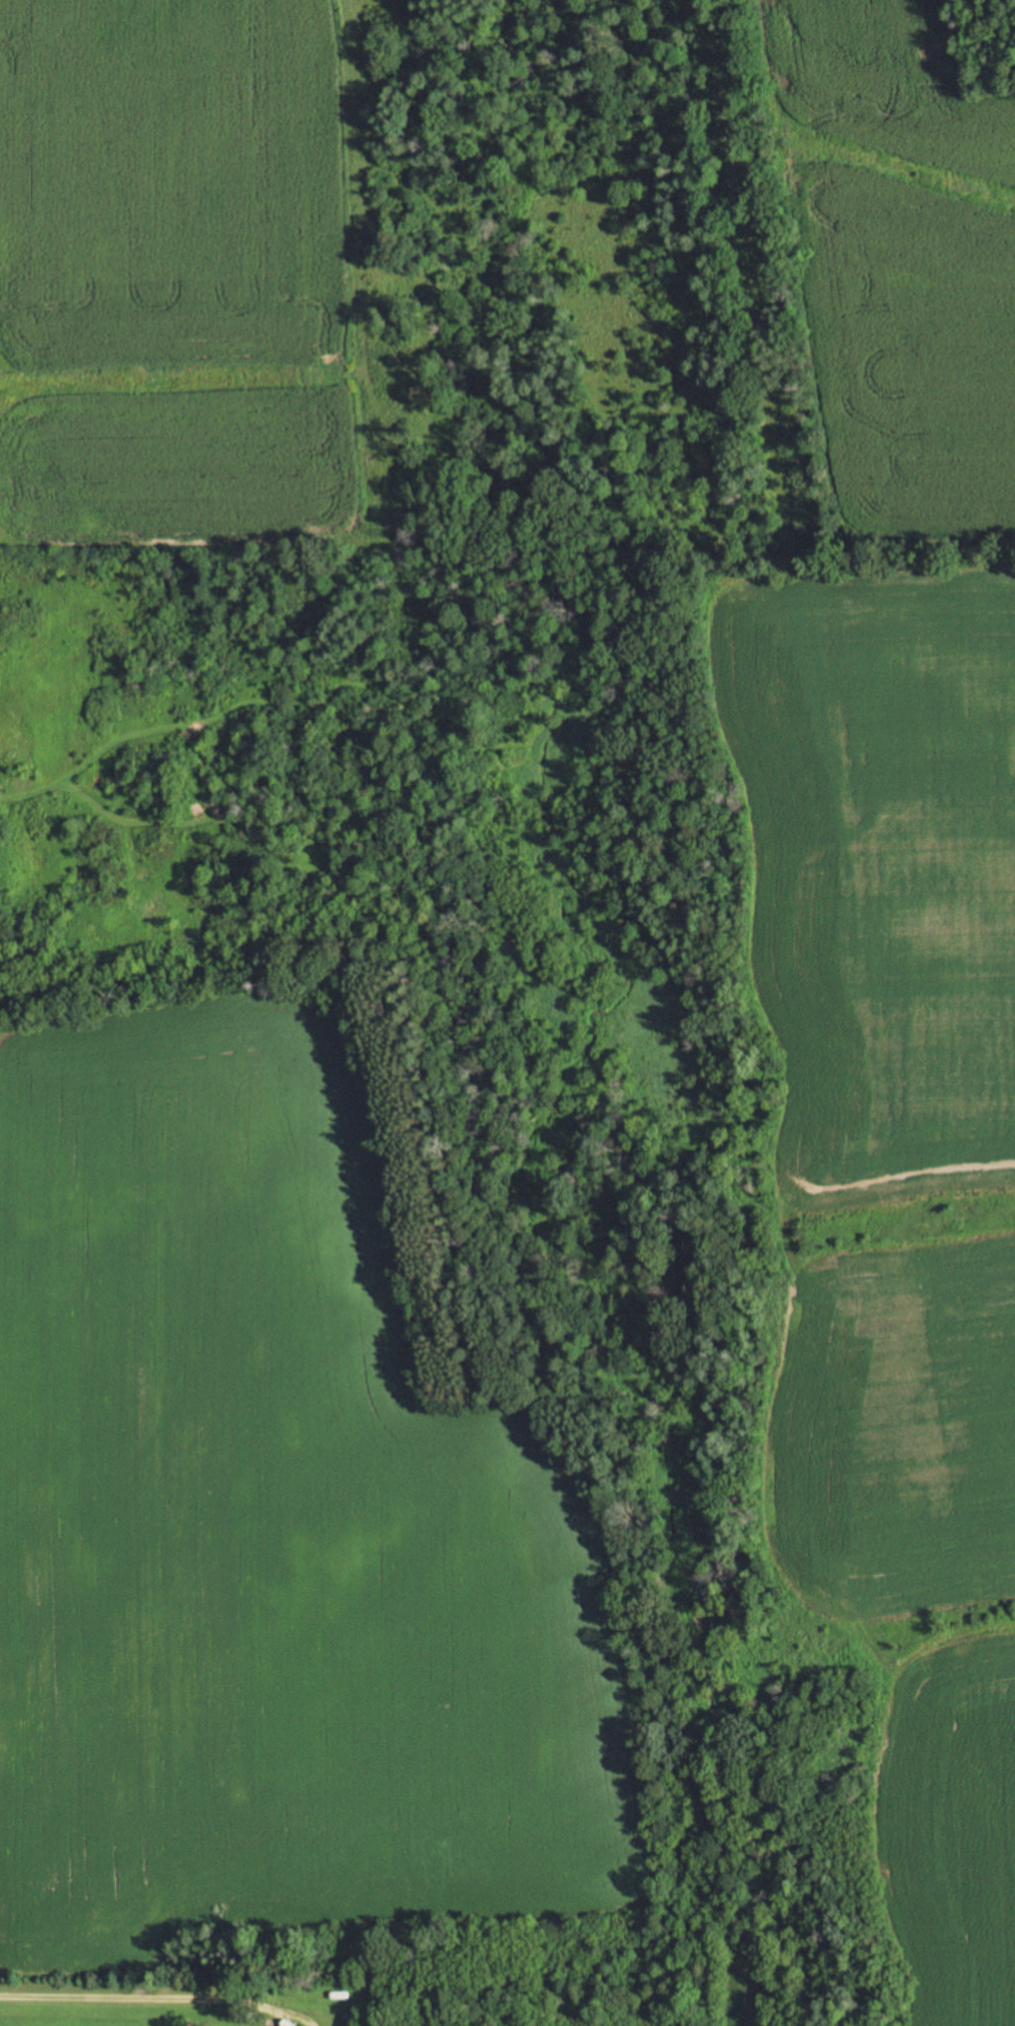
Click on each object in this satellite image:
road: (147, 1998)
building: (359, 2020)

